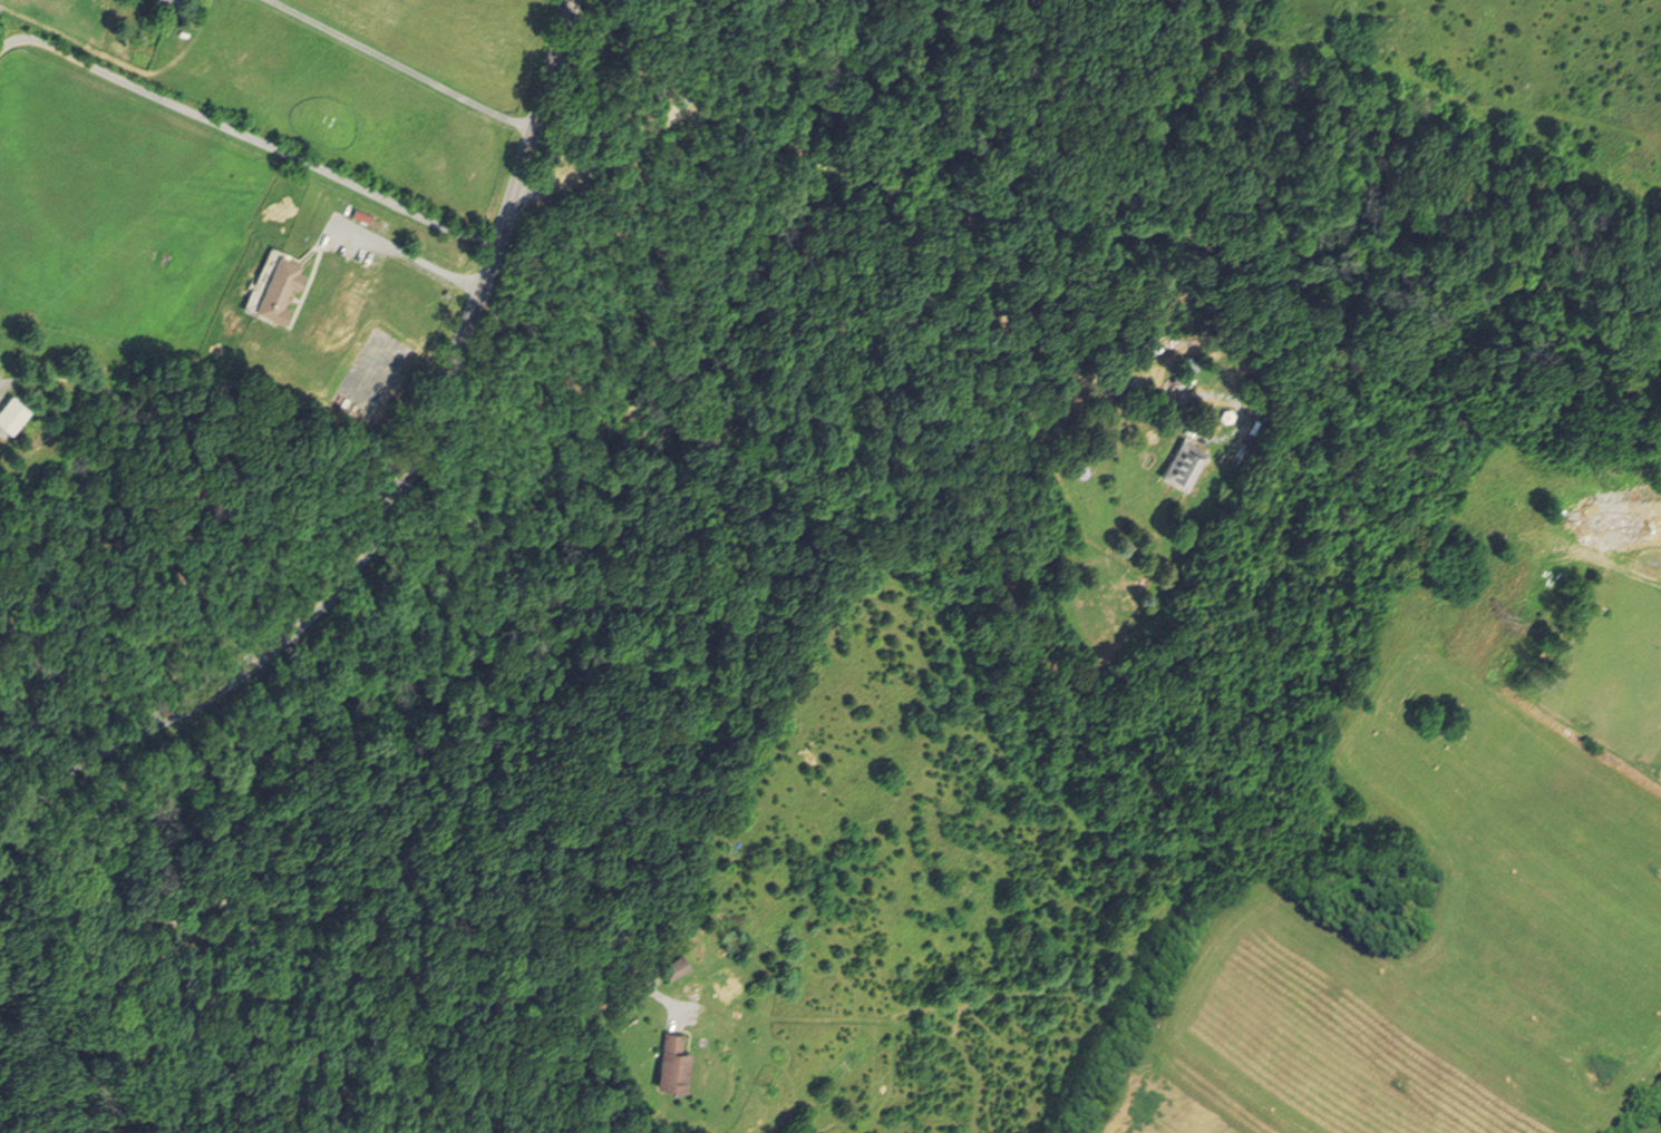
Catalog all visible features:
road: (395, 65)
road: (247, 135)
road: (886, 176)
building: (360, 213)
road: (411, 251)
building: (273, 283)
building: (1126, 348)
building: (1175, 378)
building: (10, 408)
building: (1177, 460)
road: (185, 489)
road: (398, 491)
road: (36, 749)
road: (444, 870)
road: (327, 965)
building: (674, 965)
building: (672, 1062)
building: (1544, 1124)

